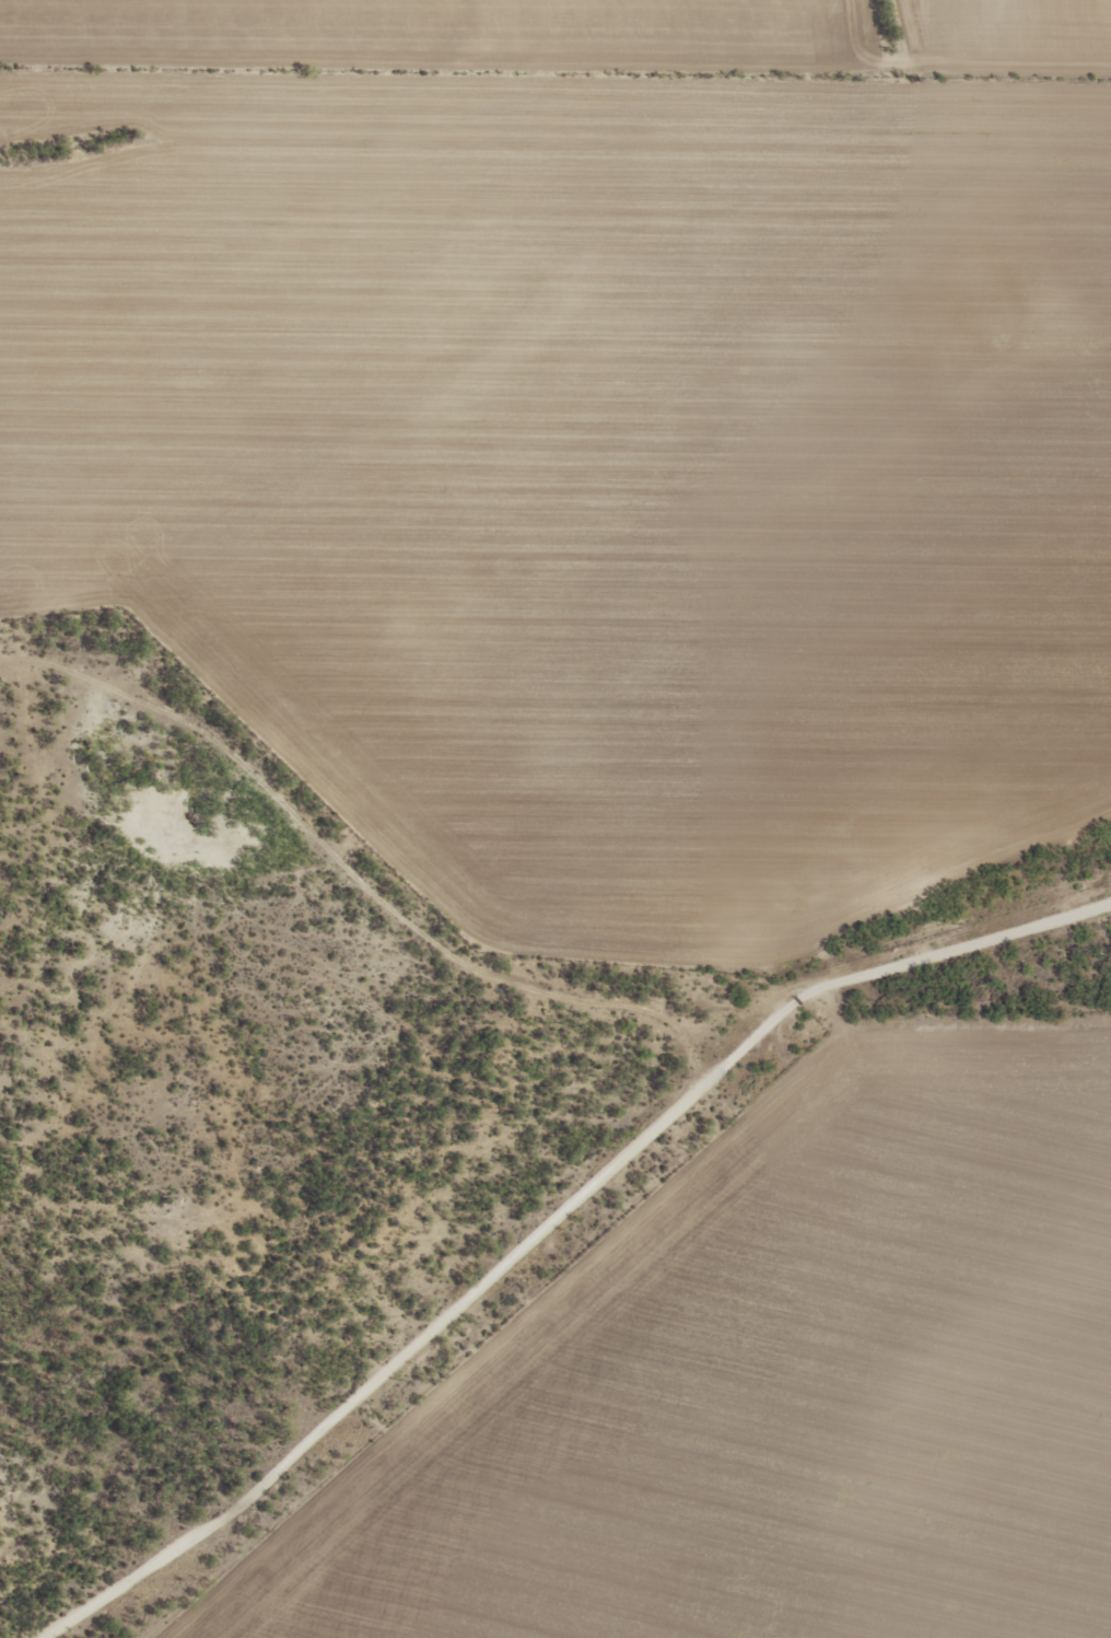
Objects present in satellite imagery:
road: (645, 1371)

